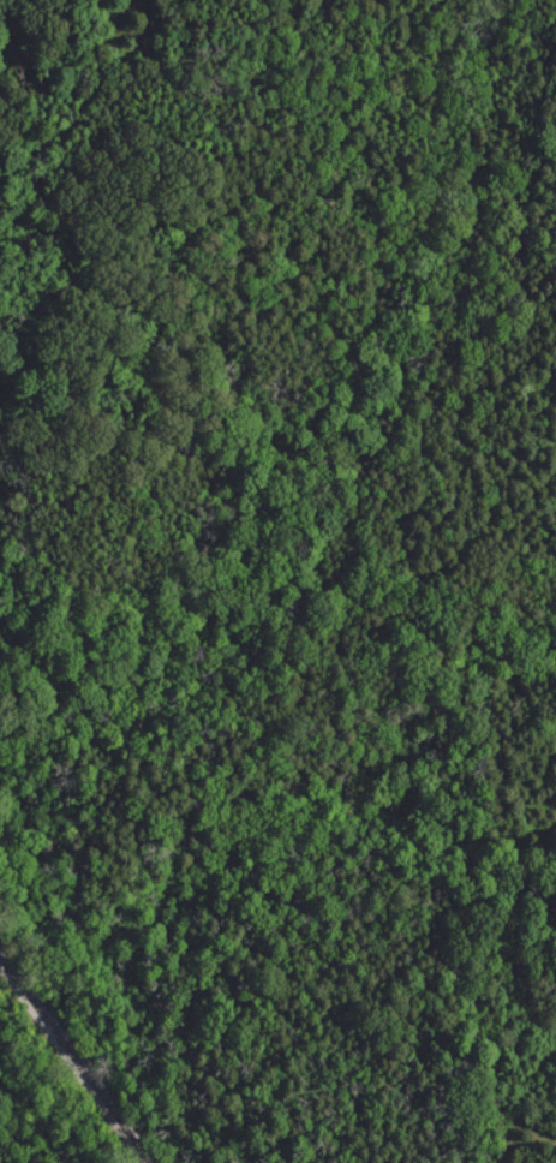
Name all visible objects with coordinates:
road: (43, 74)
road: (282, 300)
railway: (74, 1061)

